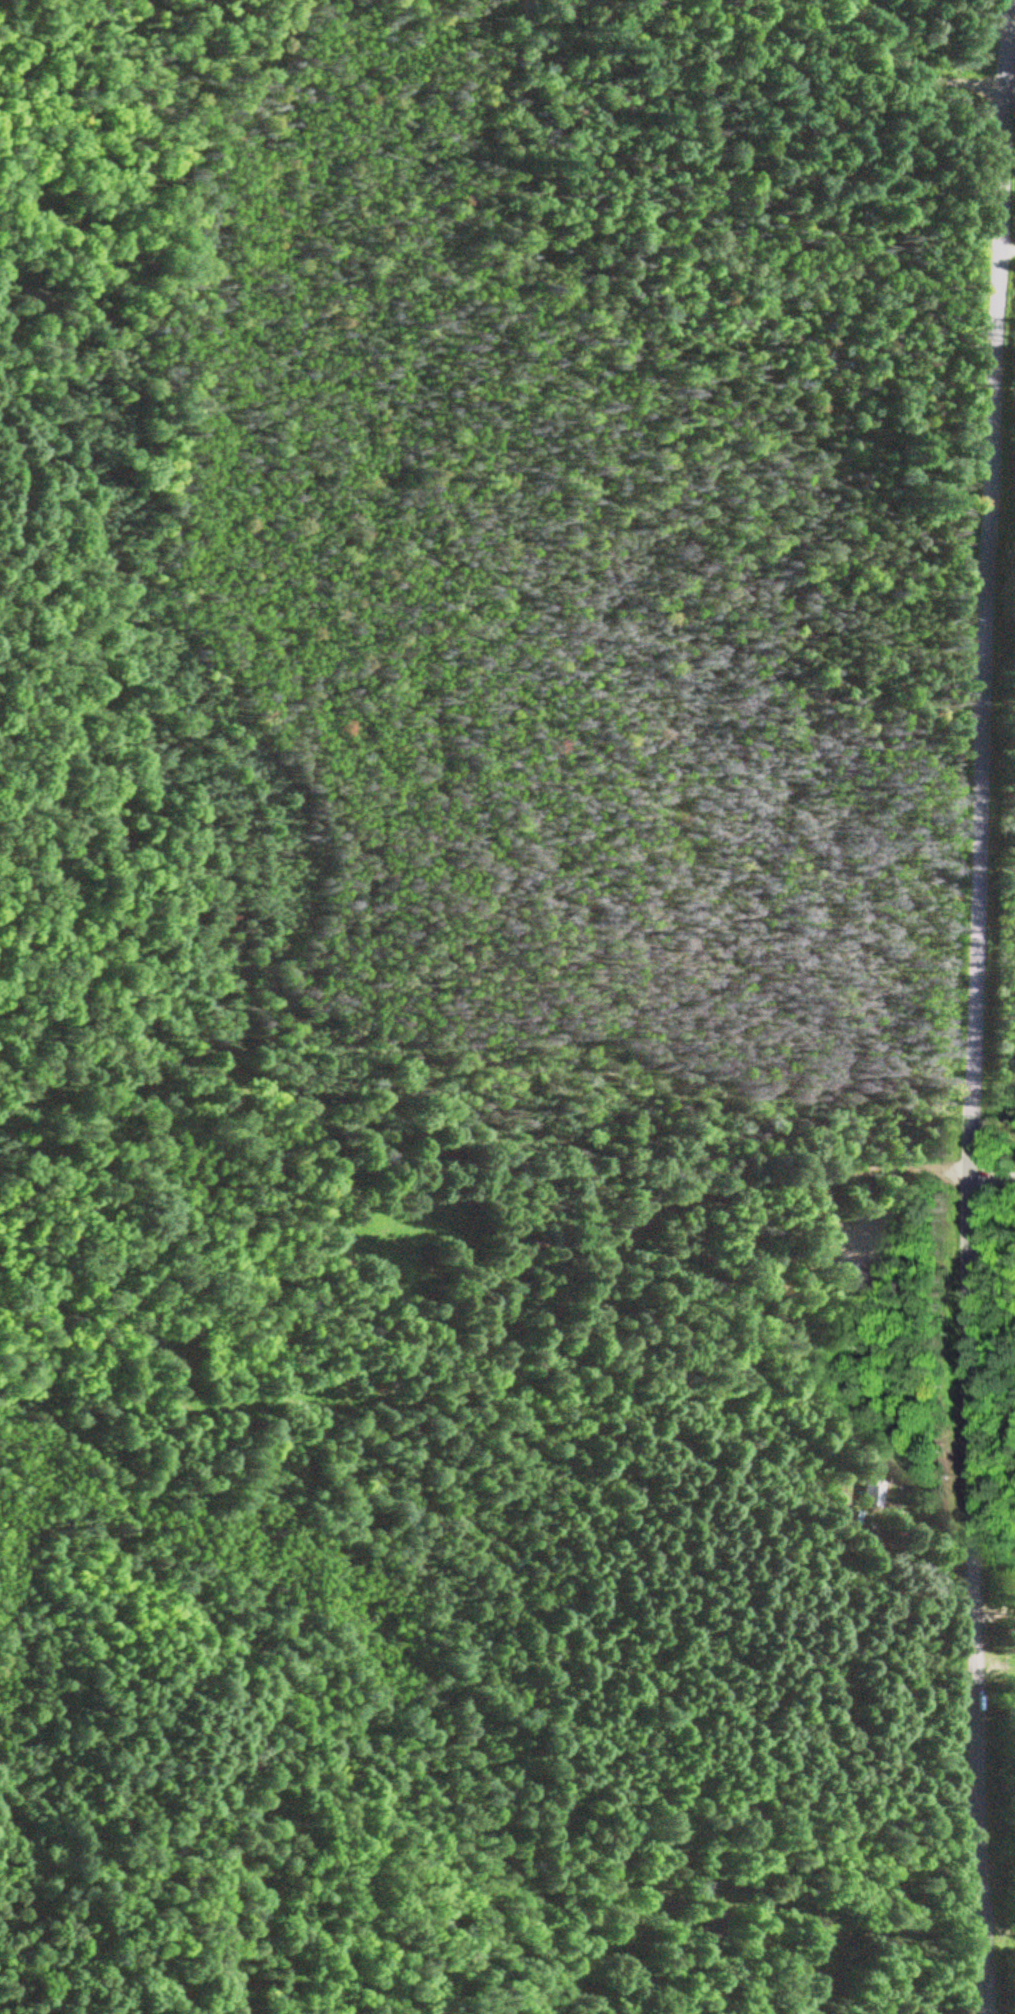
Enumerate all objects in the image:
road: (1010, 61)
road: (1007, 252)
road: (975, 1006)
road: (880, 1170)
road: (992, 1178)
building: (871, 1491)
road: (996, 1609)
building: (611, 1860)

